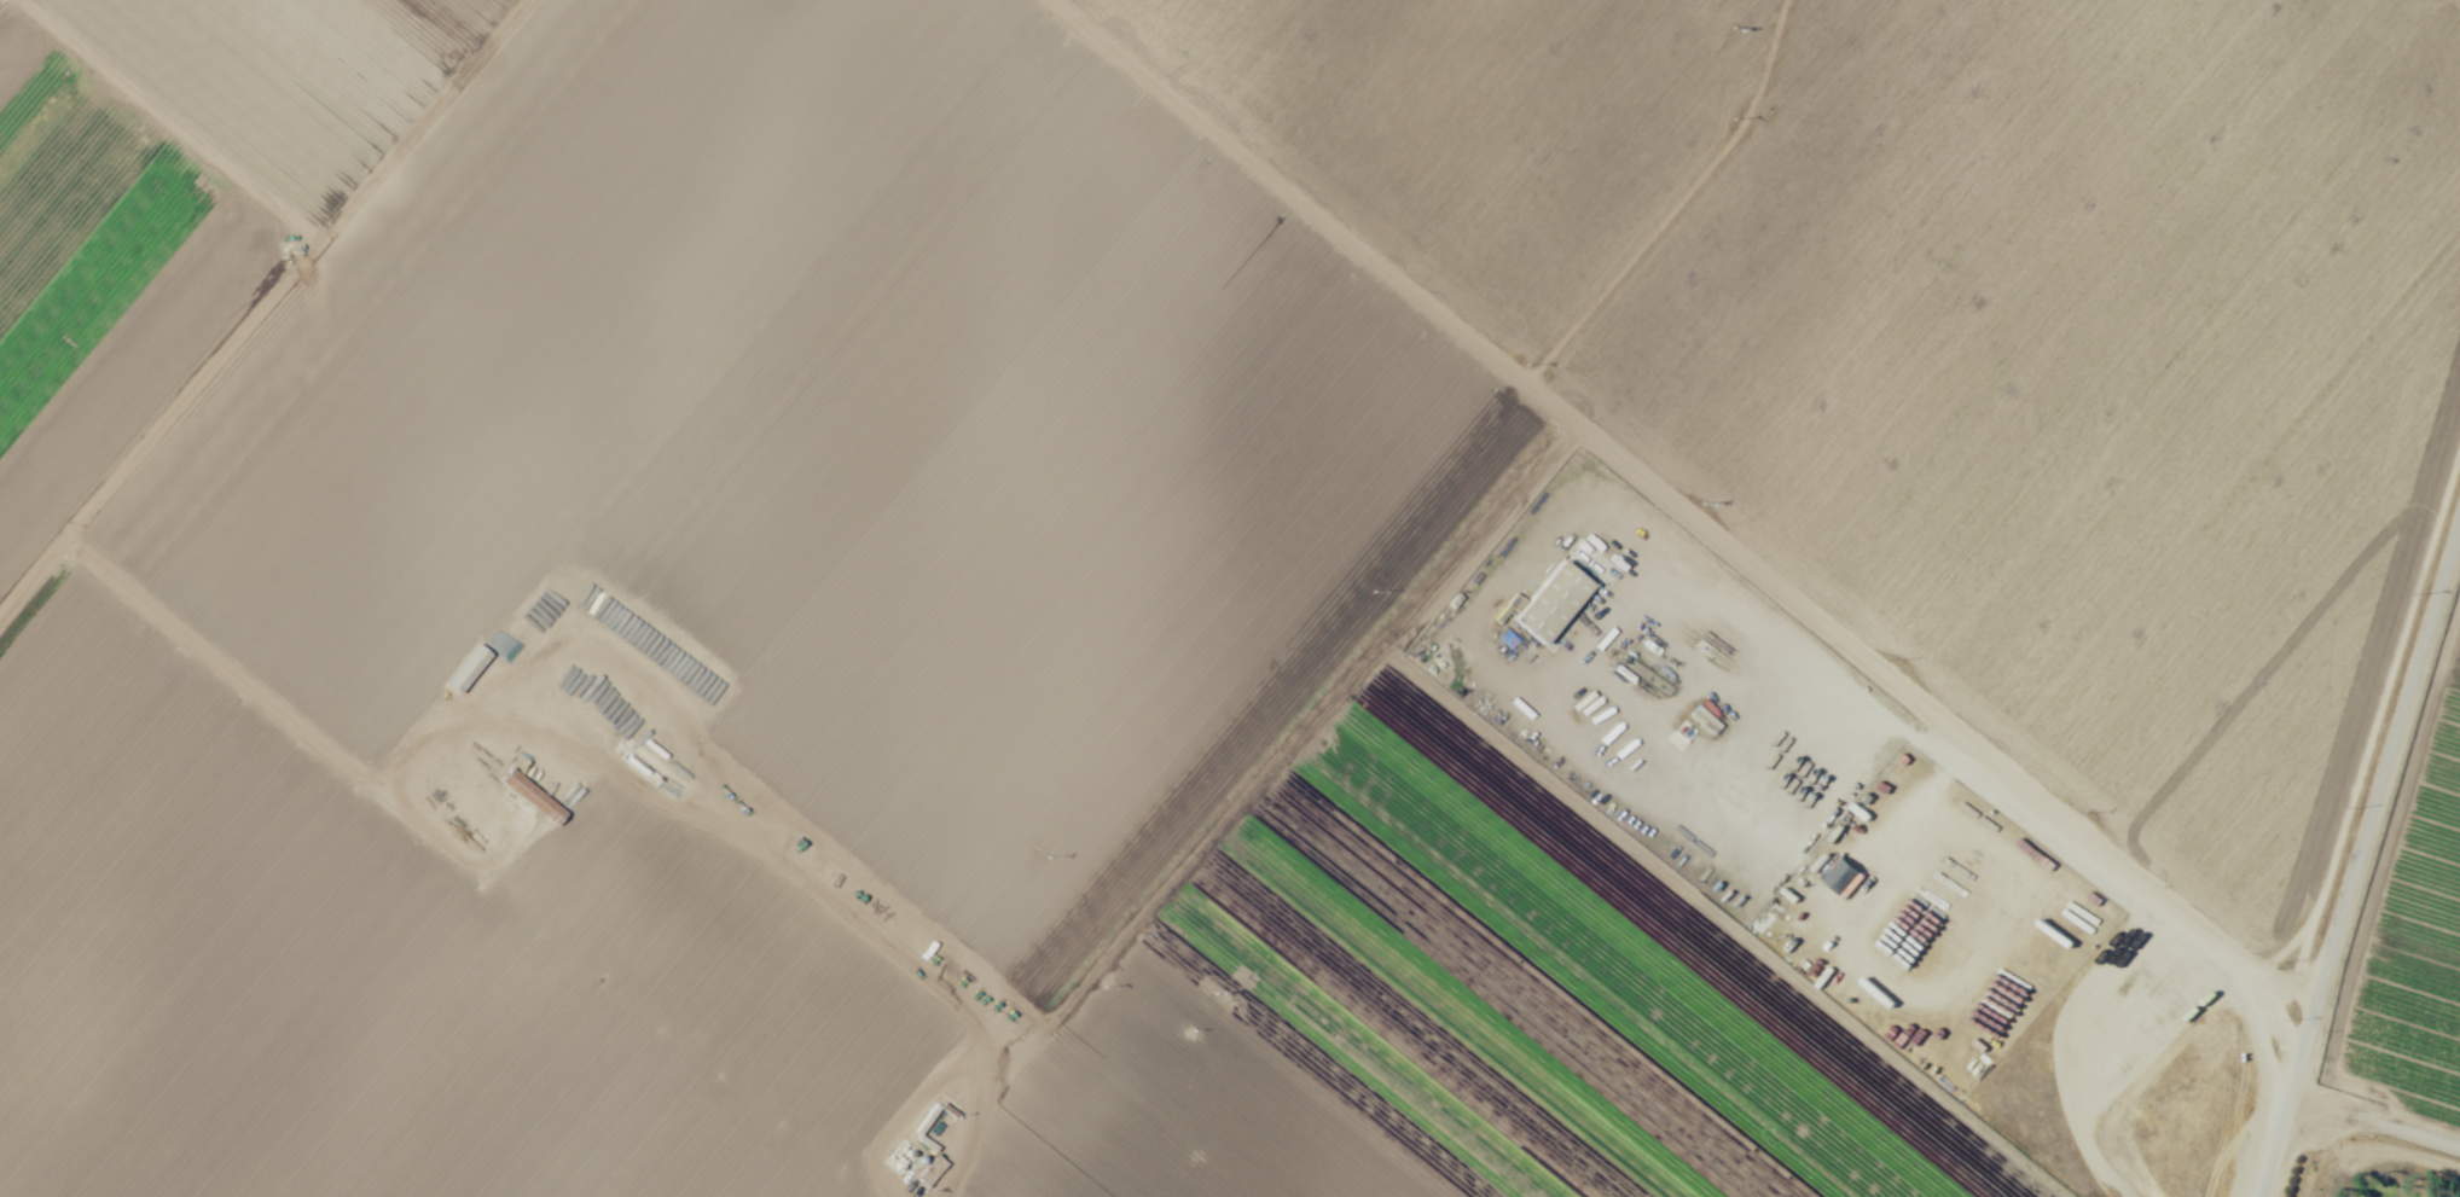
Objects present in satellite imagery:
road: (1679, 202)
road: (260, 307)
road: (1684, 511)
crop: (1154, 570)
building: (1553, 605)
road: (667, 623)
building: (468, 668)
road: (2368, 717)
building: (533, 797)
road: (2359, 862)
road: (2374, 1123)

